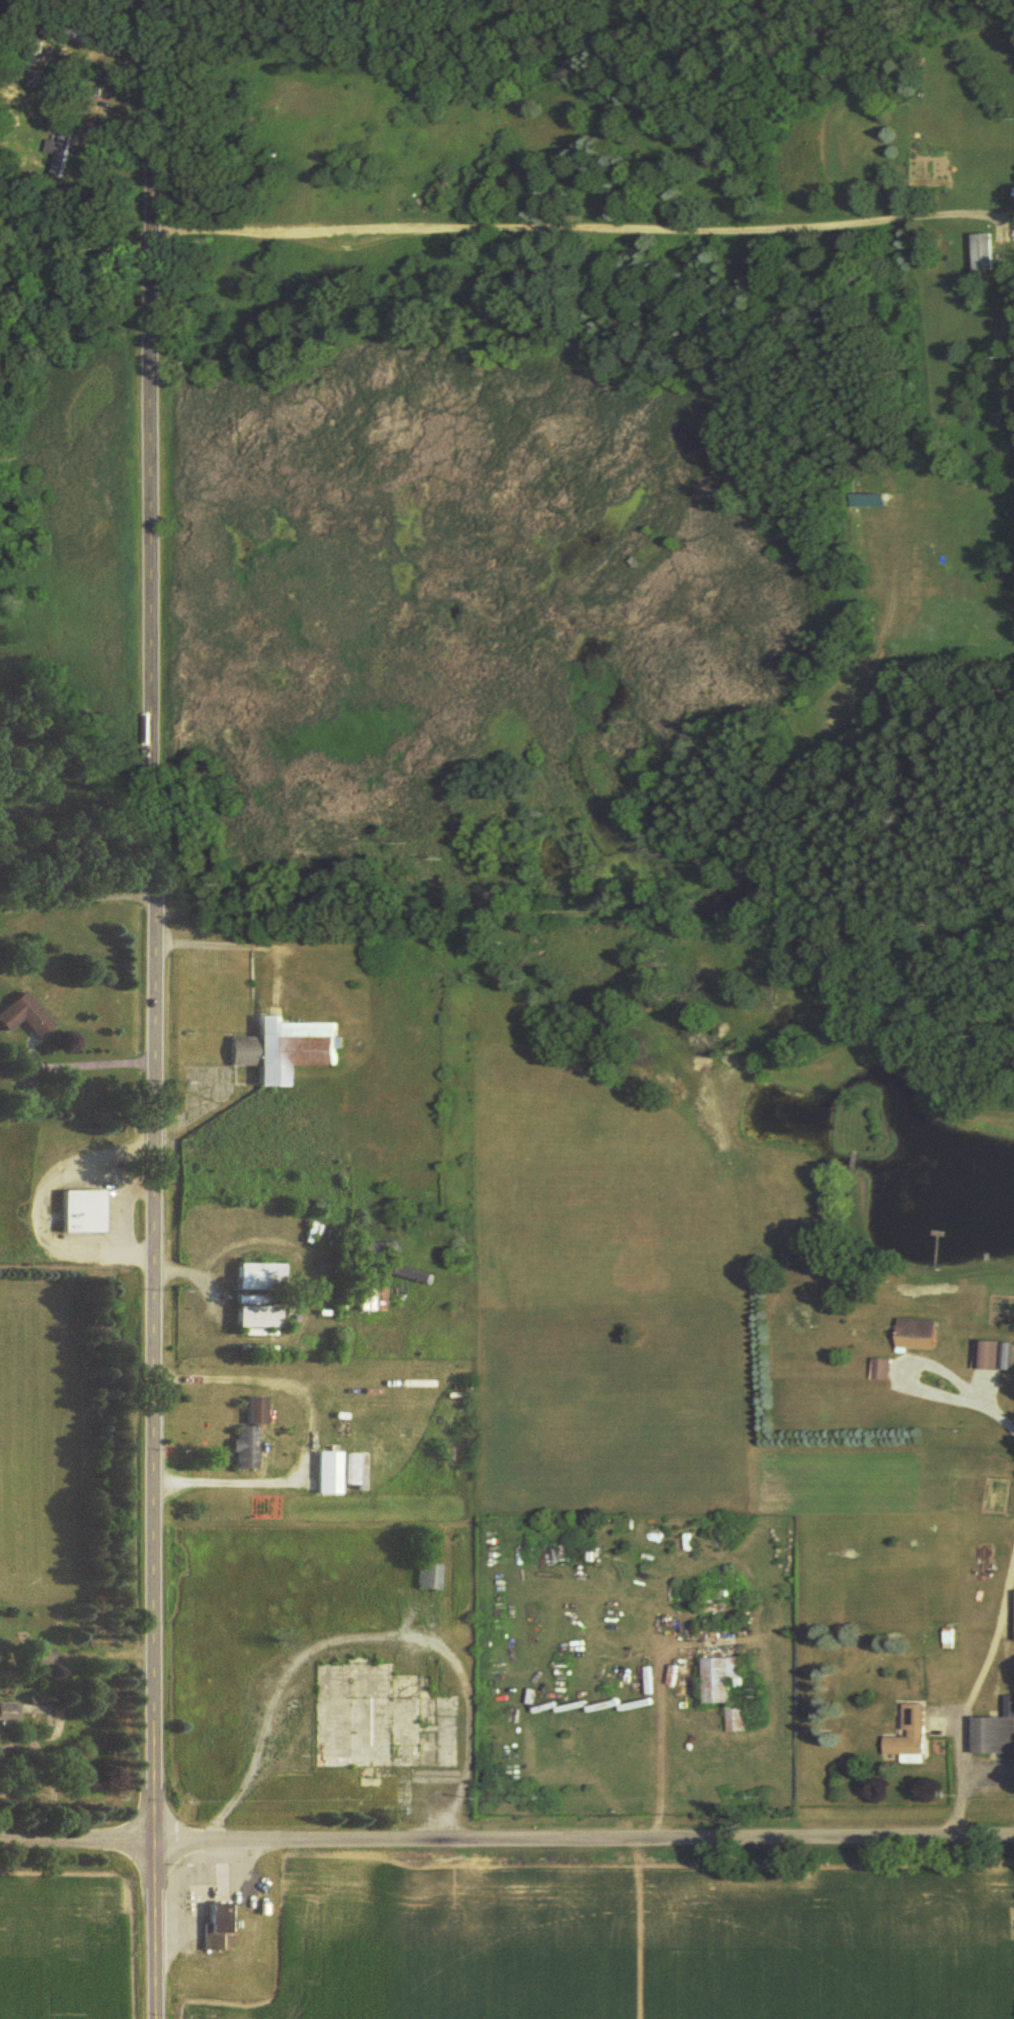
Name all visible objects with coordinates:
building: (76, 34)
road: (500, 234)
building: (983, 253)
building: (869, 499)
road: (739, 847)
road: (76, 904)
road: (153, 919)
building: (20, 1017)
building: (278, 1049)
road: (57, 1156)
building: (76, 1213)
road: (101, 1236)
road: (24, 1237)
building: (253, 1277)
building: (252, 1313)
building: (913, 1335)
building: (989, 1357)
road: (963, 1370)
building: (878, 1371)
building: (247, 1449)
building: (329, 1474)
building: (992, 1497)
building: (428, 1577)
building: (717, 1597)
building: (1013, 1616)
building: (34, 1658)
building: (721, 1688)
building: (7, 1717)
building: (993, 1732)
building: (906, 1738)
road: (584, 1838)
road: (78, 1839)
road: (202, 1852)
road: (181, 1868)
road: (241, 1870)
road: (172, 1892)
road: (194, 1897)
building: (215, 1927)
road: (156, 1928)

